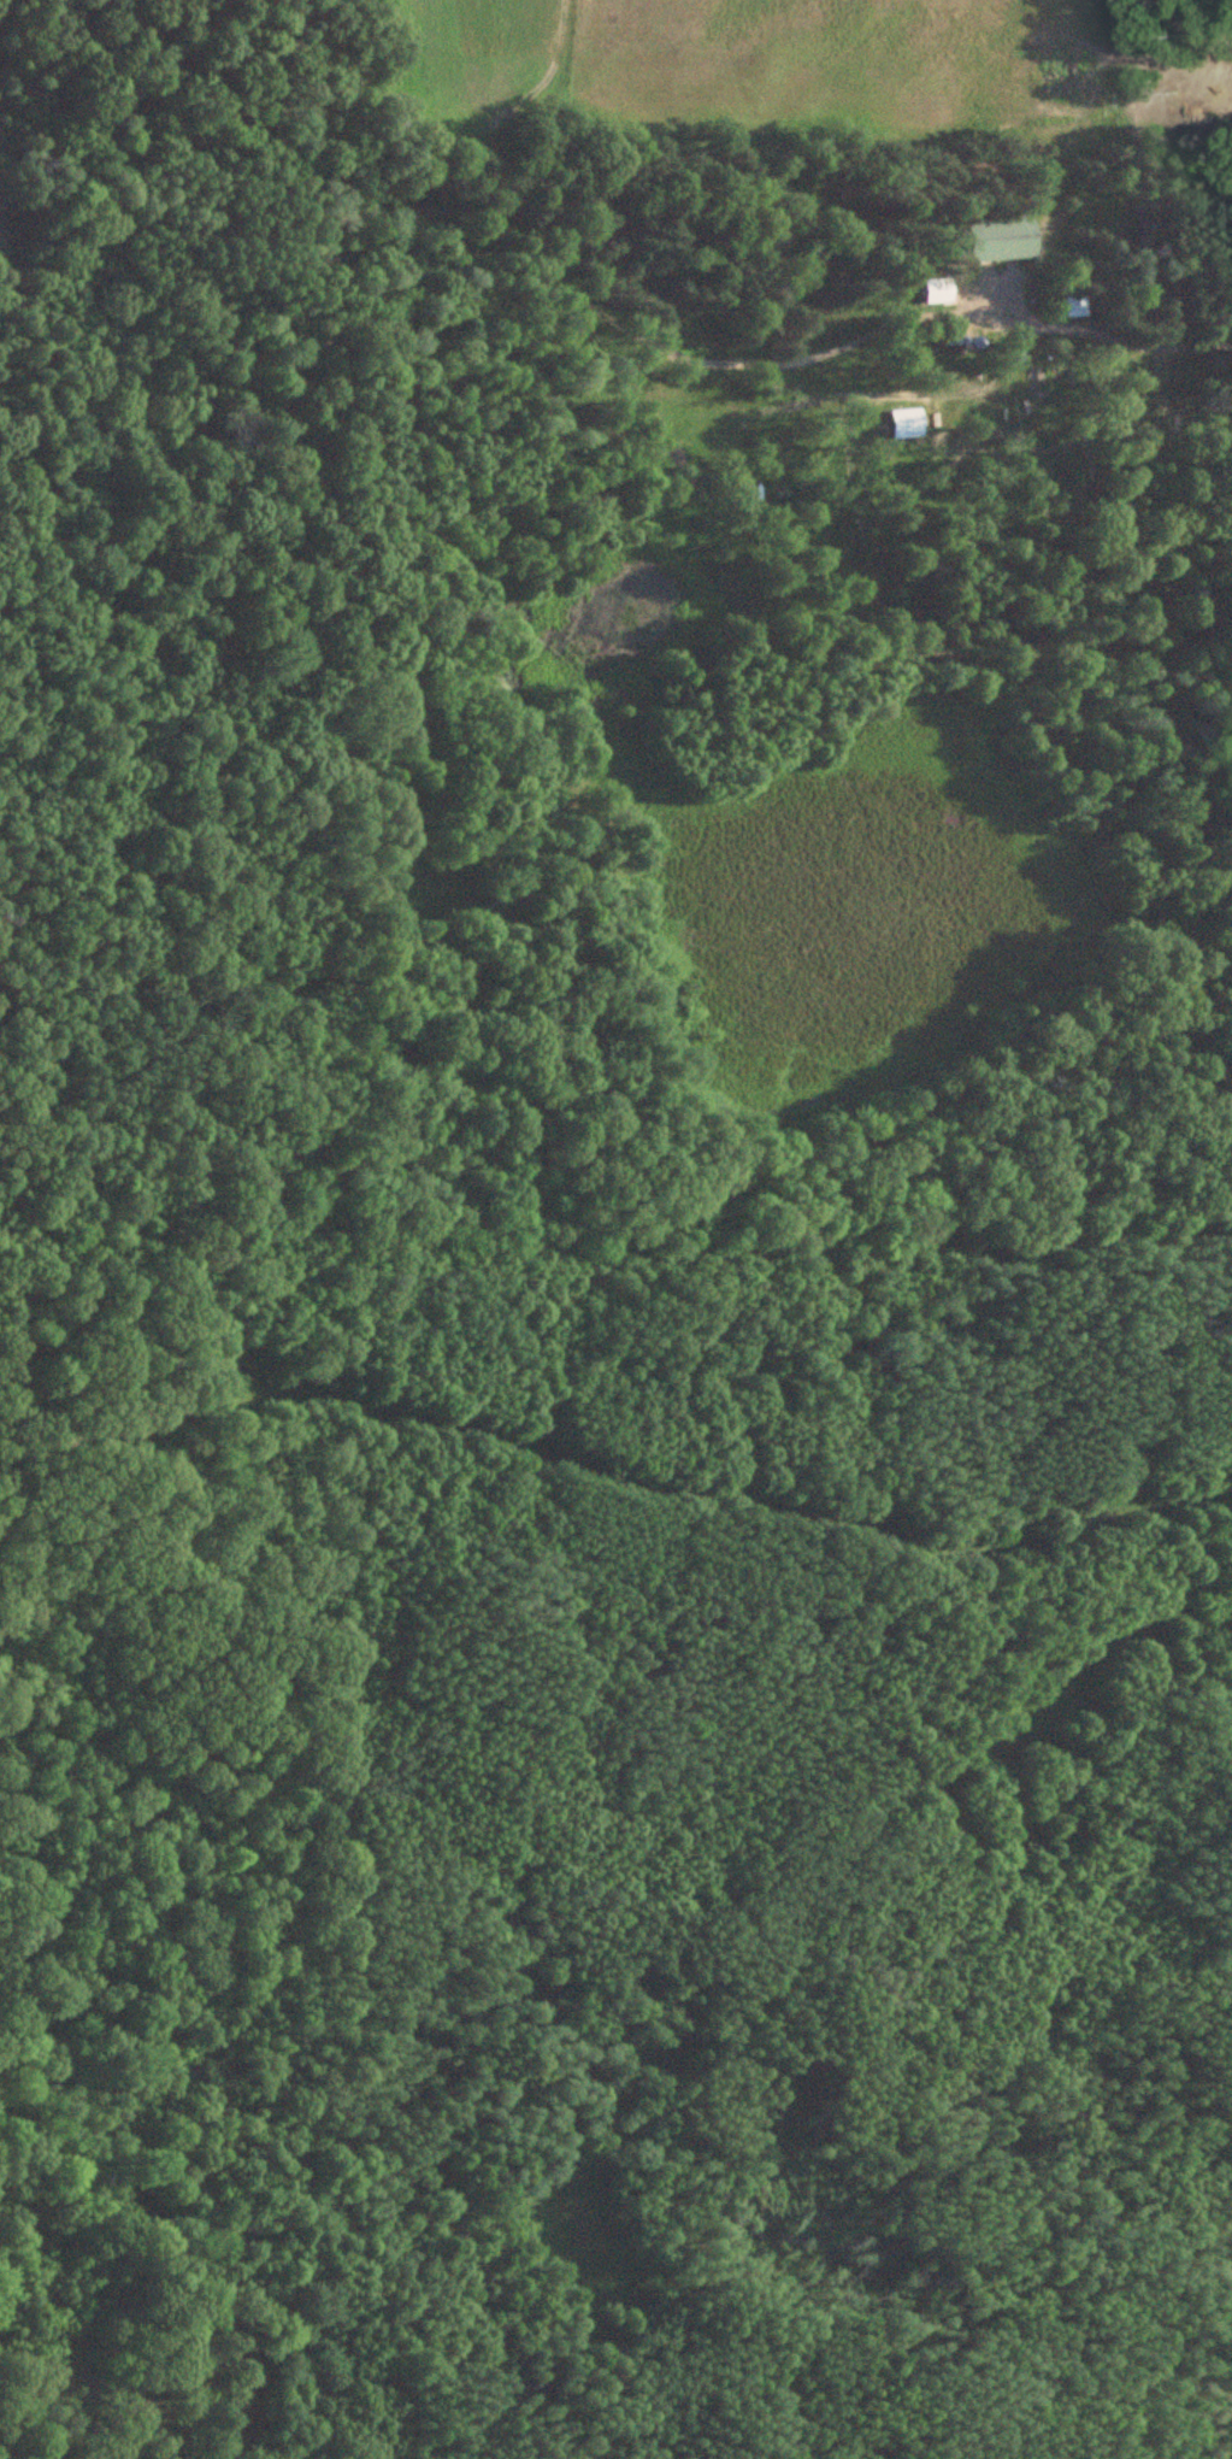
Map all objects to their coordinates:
crop: (778, 65)
road: (1078, 125)
road: (500, 228)
building: (1001, 235)
building: (938, 287)
building: (1071, 305)
road: (1096, 330)
road: (926, 395)
building: (906, 420)
road: (613, 1483)
road: (823, 1969)

